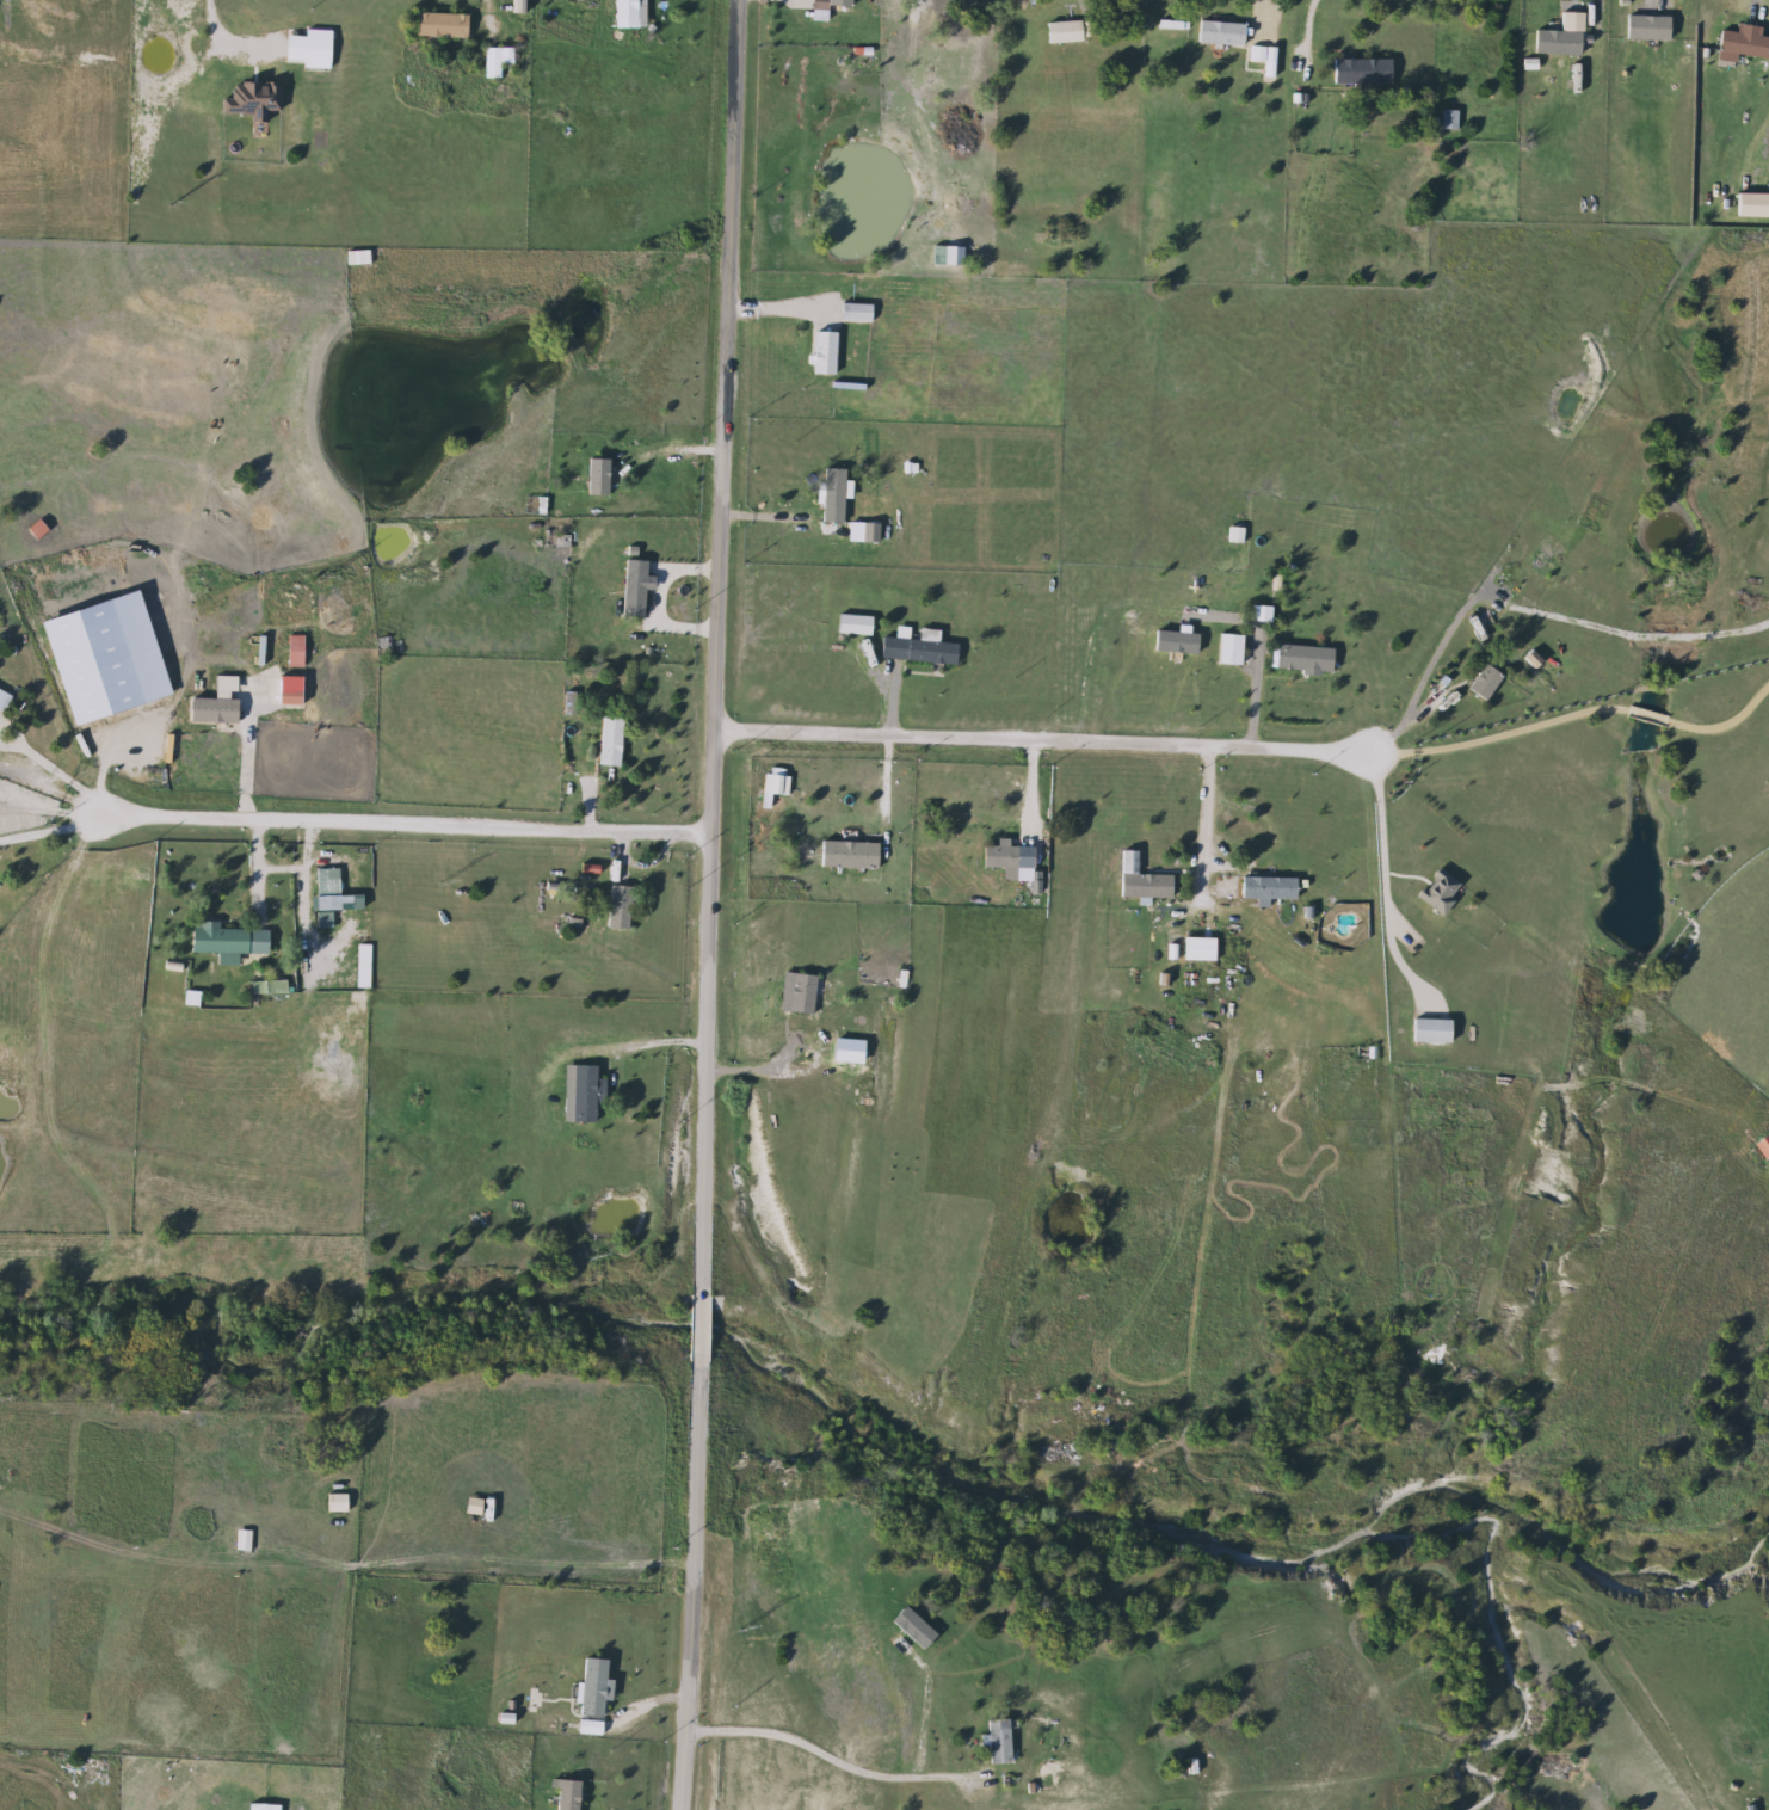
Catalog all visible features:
building: (516, 6)
building: (838, 6)
road: (498, 8)
building: (623, 10)
road: (1757, 14)
road: (1600, 17)
road: (1264, 19)
road: (227, 23)
building: (438, 25)
road: (1307, 27)
building: (1060, 32)
building: (1218, 33)
building: (1560, 42)
building: (1740, 47)
building: (258, 51)
building: (1256, 54)
building: (494, 61)
building: (1360, 70)
building: (356, 258)
building: (887, 344)
building: (821, 352)
building: (596, 476)
building: (828, 490)
building: (633, 587)
building: (913, 649)
building: (1225, 649)
building: (1300, 659)
building: (384, 665)
road: (1430, 670)
building: (1481, 683)
road: (1646, 715)
road: (1725, 726)
road: (1499, 735)
building: (608, 741)
road: (1037, 744)
road: (255, 759)
road: (55, 783)
road: (1033, 802)
road: (1208, 812)
road: (1383, 821)
road: (407, 830)
road: (50, 832)
building: (845, 854)
building: (997, 856)
building: (325, 882)
building: (1142, 887)
building: (1255, 888)
building: (1436, 892)
road: (714, 905)
building: (617, 909)
building: (214, 940)
building: (1186, 949)
building: (265, 987)
building: (1426, 1032)
road: (659, 1046)
road: (805, 1071)
building: (580, 1094)
building: (1763, 1147)
building: (241, 1541)
road: (513, 1560)
building: (591, 1687)
road: (932, 1711)
building: (996, 1742)
road: (827, 1754)
building: (565, 1794)

